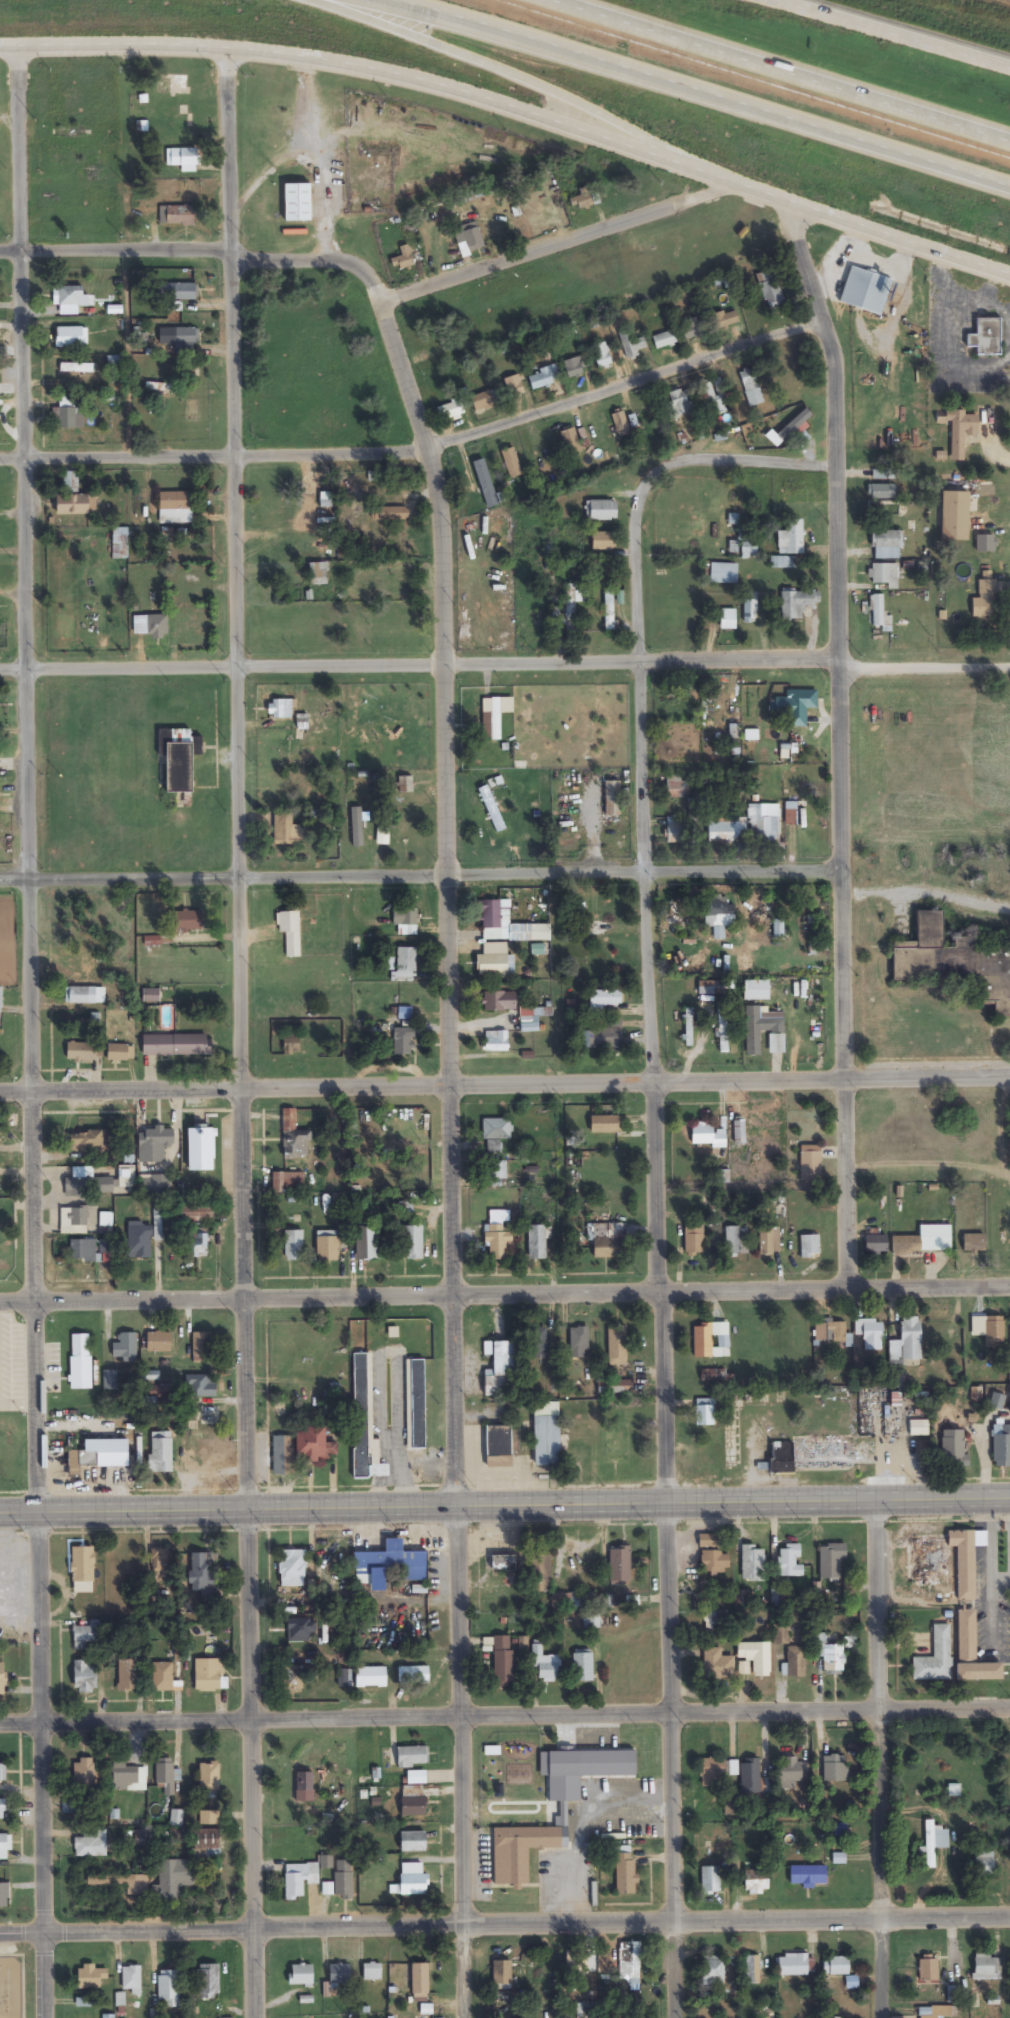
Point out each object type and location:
road: (892, 33)
road: (779, 71)
road: (507, 72)
building: (171, 85)
road: (698, 90)
road: (513, 113)
building: (183, 159)
building: (582, 201)
building: (298, 204)
building: (177, 215)
building: (469, 239)
building: (403, 260)
road: (373, 285)
building: (770, 289)
building: (866, 291)
building: (180, 292)
building: (69, 299)
building: (725, 320)
building: (692, 330)
building: (71, 337)
building: (987, 338)
building: (665, 340)
building: (629, 345)
building: (602, 356)
building: (115, 361)
building: (780, 364)
building: (76, 368)
building: (573, 368)
building: (543, 378)
building: (155, 387)
building: (514, 387)
building: (751, 388)
building: (713, 398)
building: (485, 402)
building: (682, 402)
building: (68, 413)
building: (450, 413)
building: (620, 424)
building: (794, 426)
building: (959, 430)
road: (417, 440)
building: (570, 442)
building: (511, 463)
building: (882, 474)
building: (485, 483)
building: (881, 491)
building: (175, 500)
building: (325, 503)
building: (75, 504)
building: (602, 510)
building: (391, 513)
building: (955, 516)
building: (345, 525)
building: (733, 533)
building: (791, 536)
building: (604, 541)
building: (119, 543)
building: (985, 543)
building: (886, 544)
building: (748, 547)
building: (785, 562)
building: (318, 573)
building: (723, 573)
building: (884, 574)
building: (985, 596)
building: (797, 602)
building: (749, 607)
building: (877, 608)
building: (570, 609)
building: (609, 611)
building: (556, 616)
building: (727, 618)
building: (157, 626)
road: (505, 663)
building: (673, 702)
building: (800, 706)
building: (280, 710)
building: (492, 721)
building: (302, 722)
road: (838, 740)
building: (179, 758)
building: (405, 784)
building: (674, 787)
building: (612, 798)
building: (491, 809)
building: (790, 813)
building: (764, 822)
building: (674, 830)
building: (727, 830)
building: (289, 831)
road: (420, 872)
building: (762, 911)
building: (718, 912)
building: (677, 916)
building: (186, 920)
building: (405, 920)
building: (499, 922)
building: (778, 928)
building: (290, 931)
building: (540, 932)
building: (152, 940)
building: (953, 959)
building: (493, 960)
building: (405, 965)
building: (708, 987)
building: (756, 989)
building: (82, 995)
building: (150, 995)
building: (605, 998)
building: (0, 999)
building: (499, 1001)
building: (529, 1019)
building: (687, 1028)
building: (763, 1030)
road: (31, 1032)
road: (235, 1033)
building: (403, 1041)
building: (495, 1041)
building: (291, 1044)
building: (177, 1045)
building: (83, 1052)
building: (118, 1052)
road: (505, 1086)
building: (605, 1124)
building: (814, 1128)
building: (496, 1129)
building: (739, 1130)
building: (706, 1136)
building: (293, 1137)
building: (89, 1141)
building: (155, 1142)
road: (450, 1148)
building: (201, 1149)
road: (655, 1150)
building: (810, 1162)
building: (97, 1182)
building: (288, 1182)
building: (154, 1185)
building: (195, 1212)
building: (74, 1218)
building: (105, 1223)
building: (496, 1235)
building: (694, 1238)
building: (139, 1239)
building: (606, 1240)
building: (736, 1240)
building: (925, 1240)
building: (768, 1241)
building: (412, 1242)
building: (537, 1242)
building: (974, 1242)
building: (197, 1243)
building: (366, 1243)
building: (876, 1243)
building: (293, 1245)
building: (809, 1245)
building: (328, 1247)
building: (82, 1250)
road: (505, 1295)
building: (994, 1331)
building: (869, 1333)
building: (819, 1336)
building: (713, 1339)
building: (158, 1340)
building: (579, 1342)
building: (904, 1342)
building: (201, 1343)
building: (124, 1348)
building: (617, 1348)
building: (79, 1362)
building: (500, 1368)
building: (712, 1375)
building: (110, 1380)
building: (201, 1387)
building: (613, 1393)
building: (150, 1404)
building: (415, 1405)
building: (329, 1410)
building: (705, 1413)
building: (207, 1416)
building: (364, 1418)
building: (918, 1427)
building: (562, 1440)
building: (998, 1442)
building: (314, 1445)
building: (496, 1445)
building: (952, 1450)
building: (159, 1452)
building: (282, 1456)
building: (705, 1458)
building: (776, 1459)
building: (83, 1462)
road: (504, 1509)
building: (709, 1541)
building: (790, 1559)
building: (833, 1561)
building: (945, 1561)
building: (394, 1562)
building: (714, 1562)
building: (502, 1563)
building: (752, 1563)
building: (160, 1564)
building: (620, 1566)
building: (292, 1568)
building: (83, 1569)
building: (201, 1573)
building: (777, 1597)
building: (567, 1601)
building: (715, 1623)
building: (301, 1631)
building: (87, 1636)
building: (972, 1653)
building: (827, 1655)
building: (756, 1657)
building: (935, 1658)
building: (503, 1662)
building: (796, 1663)
building: (717, 1665)
building: (546, 1666)
building: (583, 1667)
building: (208, 1675)
building: (128, 1676)
building: (411, 1676)
building: (162, 1677)
building: (85, 1678)
building: (344, 1678)
building: (371, 1678)
building: (2, 1679)
road: (505, 1709)
building: (412, 1758)
road: (881, 1762)
building: (790, 1769)
building: (835, 1769)
building: (3, 1772)
building: (712, 1773)
building: (83, 1775)
building: (750, 1776)
building: (165, 1777)
building: (129, 1778)
building: (209, 1778)
building: (416, 1778)
building: (304, 1787)
building: (413, 1804)
building: (3, 1809)
building: (176, 1818)
building: (209, 1819)
building: (208, 1840)
building: (413, 1842)
building: (934, 1843)
building: (90, 1845)
building: (5, 1847)
building: (519, 1852)
building: (985, 1862)
building: (625, 1875)
building: (808, 1875)
building: (173, 1880)
building: (299, 1880)
building: (344, 1880)
building: (413, 1880)
building: (710, 1881)
building: (115, 1882)
building: (756, 1883)
building: (4, 1895)
road: (505, 1925)
building: (629, 1964)
building: (577, 1966)
building: (793, 1966)
building: (839, 1966)
building: (987, 1968)
building: (751, 1970)
building: (929, 1970)
building: (713, 1971)
building: (372, 1973)
building: (502, 1974)
building: (301, 1975)
building: (339, 1975)
building: (91, 1977)
building: (131, 1980)
building: (539, 1980)
building: (420, 1981)
building: (208, 1982)
building: (852, 1983)
building: (169, 1989)
building: (583, 2010)
building: (930, 2014)
building: (108, 2017)

